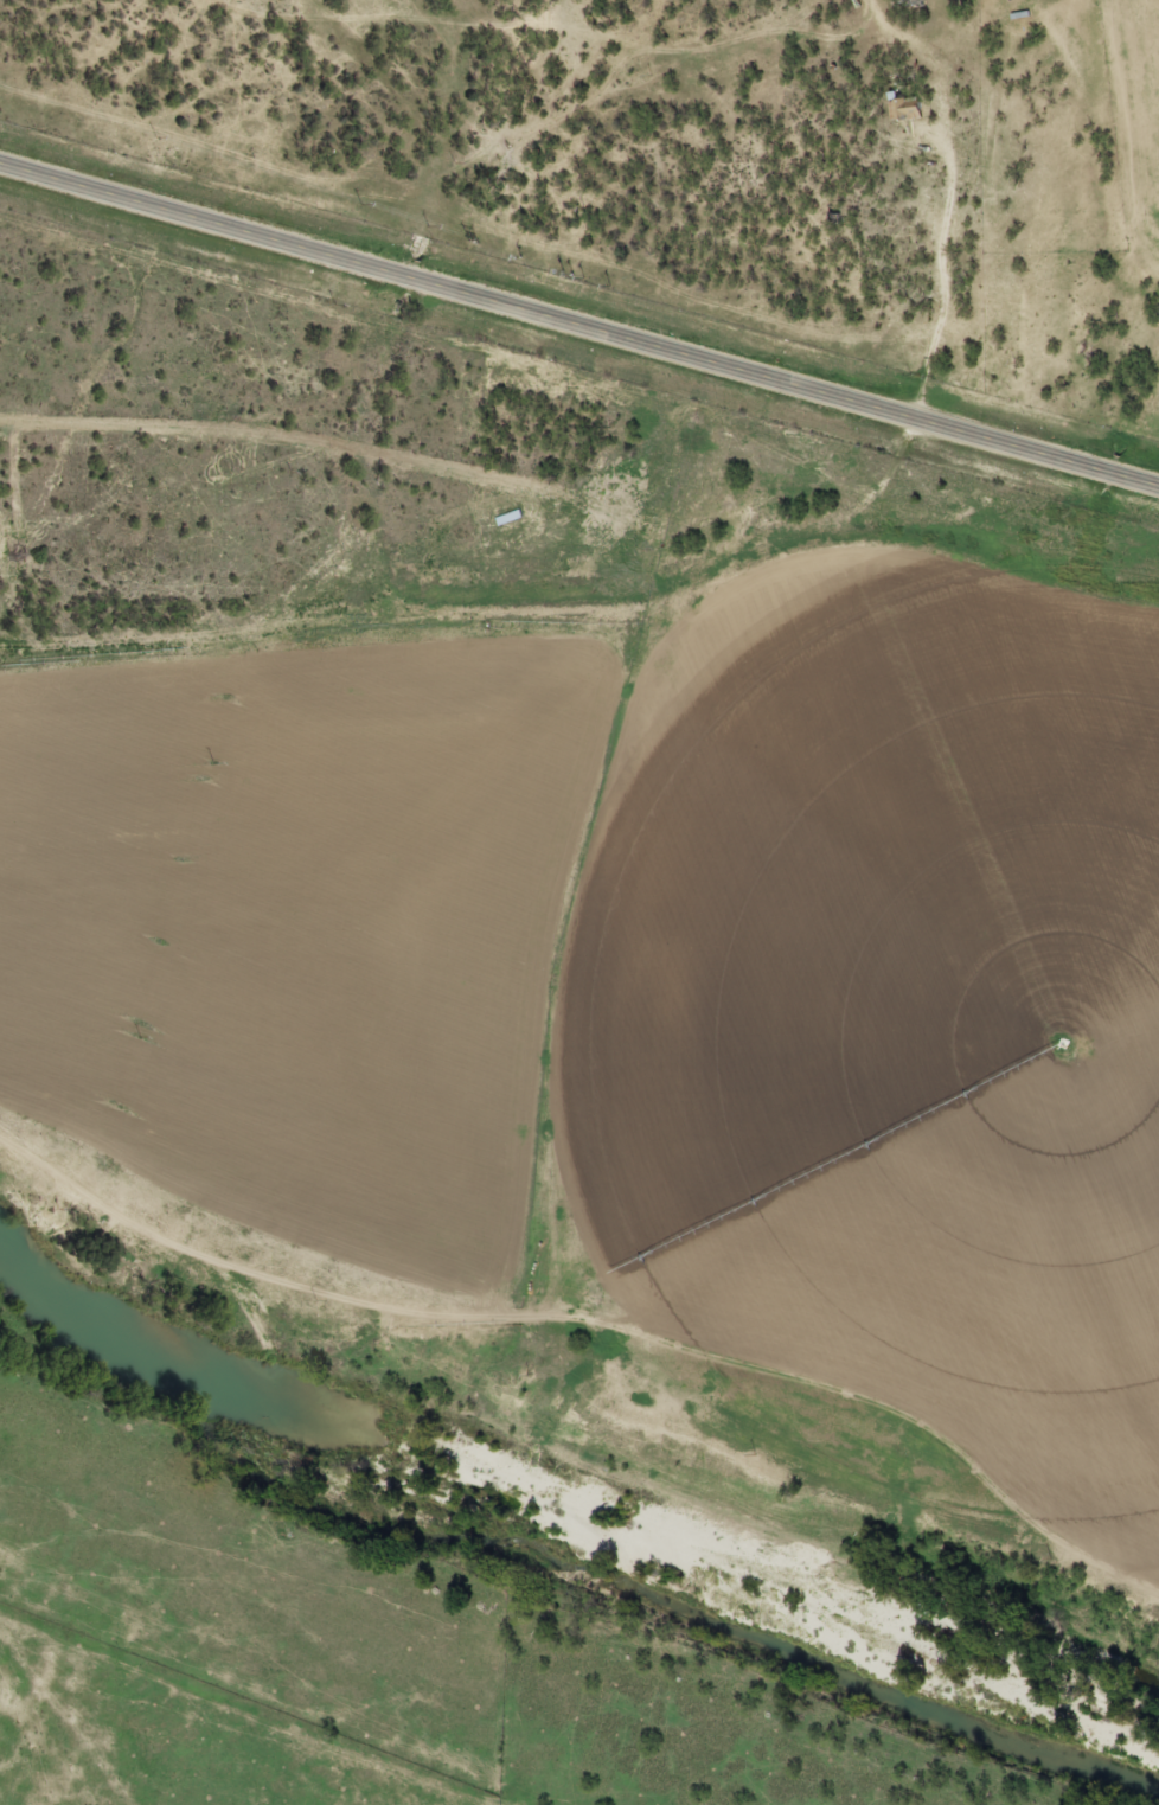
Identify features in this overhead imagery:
building: (903, 109)
road: (324, 127)
road: (578, 321)
building: (508, 516)
road: (585, 1307)
river: (570, 1536)

